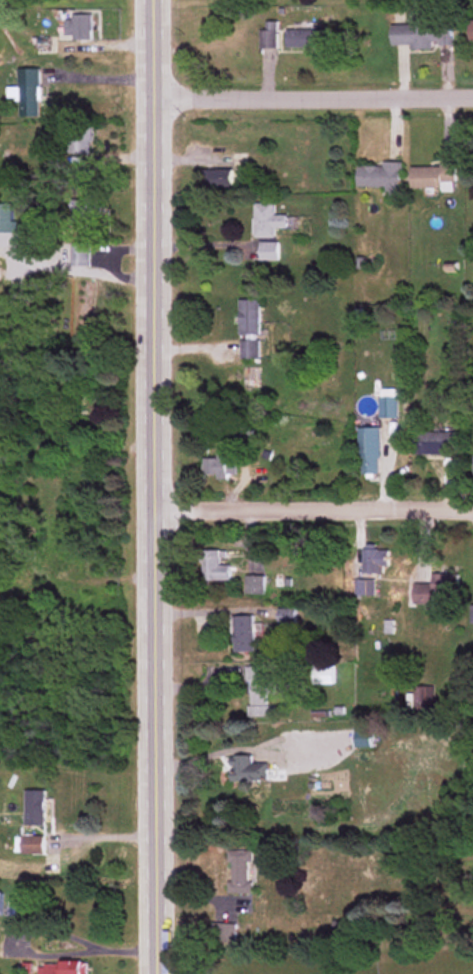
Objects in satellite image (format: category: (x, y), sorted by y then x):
building: (76, 27)
building: (470, 33)
building: (266, 35)
building: (420, 35)
building: (305, 38)
road: (100, 73)
building: (26, 92)
road: (315, 102)
building: (77, 140)
building: (380, 177)
building: (432, 177)
building: (218, 179)
building: (82, 211)
building: (5, 217)
building: (265, 220)
building: (78, 254)
building: (247, 317)
building: (248, 349)
building: (242, 438)
building: (433, 443)
building: (368, 450)
building: (472, 465)
building: (217, 467)
road: (157, 486)
road: (315, 510)
building: (374, 561)
building: (66, 565)
building: (214, 566)
building: (254, 584)
building: (365, 587)
building: (434, 590)
building: (62, 609)
building: (471, 614)
building: (286, 616)
building: (242, 633)
building: (321, 675)
building: (258, 691)
building: (288, 745)
building: (246, 770)
building: (34, 808)
road: (103, 832)
building: (32, 846)
building: (239, 871)
building: (0, 905)
building: (222, 931)
building: (62, 968)

